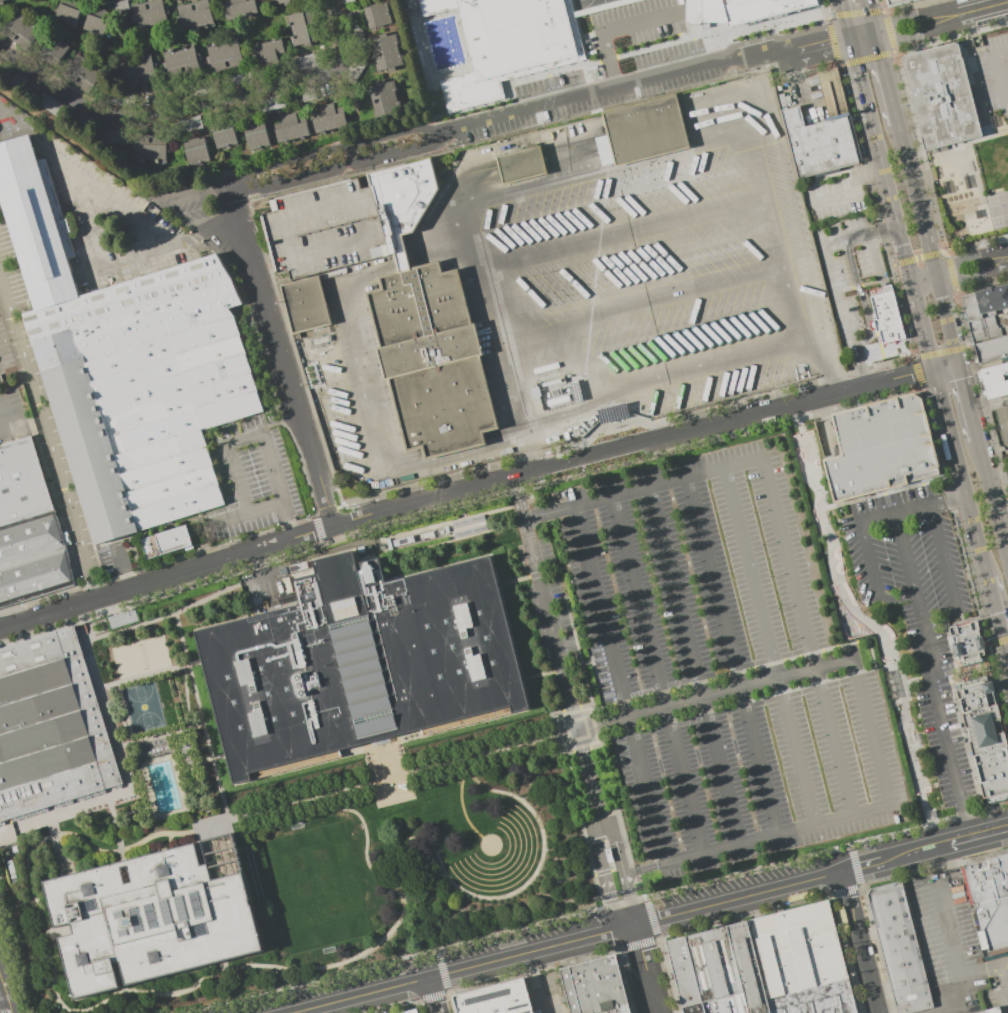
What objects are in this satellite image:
building: (2, 0)
building: (174, 0)
building: (176, 0)
building: (281, 1)
building: (344, 1)
building: (896, 2)
building: (120, 7)
building: (751, 7)
building: (238, 8)
road: (982, 8)
building: (69, 12)
building: (149, 13)
road: (868, 13)
building: (194, 15)
building: (376, 15)
road: (913, 15)
road: (845, 19)
building: (95, 20)
building: (303, 27)
traffic signals: (872, 27)
building: (20, 30)
road: (612, 30)
building: (513, 32)
road: (861, 33)
road: (329, 37)
road: (905, 38)
traffic signals: (850, 39)
building: (357, 40)
traffic signals: (876, 45)
building: (53, 52)
building: (268, 52)
building: (386, 52)
building: (225, 54)
building: (181, 61)
building: (310, 61)
building: (138, 70)
building: (82, 72)
building: (351, 75)
road: (884, 75)
road: (999, 75)
parking lot: (994, 78)
building: (30, 90)
building: (832, 92)
building: (309, 94)
building: (941, 96)
building: (384, 99)
building: (268, 104)
road: (540, 106)
road: (727, 114)
building: (328, 117)
road: (162, 120)
building: (189, 123)
road: (26, 127)
building: (290, 128)
building: (644, 130)
road: (645, 133)
building: (256, 134)
building: (112, 136)
building: (225, 139)
building: (818, 144)
road: (53, 148)
building: (151, 149)
building: (197, 151)
road: (575, 152)
road: (881, 161)
building: (520, 167)
road: (520, 167)
road: (848, 189)
road: (198, 194)
road: (915, 195)
road: (458, 199)
road: (502, 204)
park: (1000, 208)
building: (36, 225)
road: (627, 230)
road: (862, 236)
road: (442, 249)
parking lot: (849, 253)
road: (262, 255)
road: (970, 257)
road: (401, 260)
road: (922, 275)
parking lot: (661, 276)
road: (935, 277)
road: (974, 277)
road: (925, 285)
road: (858, 296)
building: (984, 298)
building: (395, 299)
road: (838, 299)
building: (305, 305)
road: (646, 305)
road: (349, 312)
building: (882, 314)
road: (923, 326)
road: (947, 326)
building: (983, 328)
road: (784, 348)
building: (991, 348)
road: (284, 357)
road: (824, 364)
road: (983, 364)
traffic signals: (958, 365)
road: (946, 367)
road: (861, 368)
traffic signals: (935, 370)
building: (994, 380)
building: (144, 392)
road: (988, 400)
road: (967, 402)
building: (611, 413)
building: (1001, 416)
road: (1, 433)
road: (49, 439)
road: (244, 439)
building: (880, 448)
road: (454, 457)
road: (961, 474)
road: (997, 475)
building: (22, 486)
road: (642, 487)
road: (465, 492)
road: (948, 499)
road: (992, 501)
road: (894, 513)
road: (447, 522)
road: (205, 525)
road: (372, 526)
road: (1003, 527)
road: (449, 541)
building: (166, 542)
building: (33, 559)
road: (382, 566)
road: (120, 568)
road: (261, 571)
road: (544, 573)
road: (947, 575)
parking lot: (261, 585)
road: (896, 594)
road: (545, 605)
parking lot: (920, 610)
road: (83, 613)
road: (167, 616)
building: (122, 619)
road: (997, 619)
road: (104, 622)
road: (872, 624)
park: (870, 627)
road: (89, 630)
road: (806, 636)
road: (868, 639)
road: (576, 640)
building: (966, 644)
road: (768, 646)
road: (731, 655)
park: (141, 657)
traffic signals: (1007, 660)
building: (359, 661)
road: (888, 664)
road: (693, 665)
parking lot: (722, 665)
road: (568, 667)
road: (969, 669)
road: (866, 670)
road: (150, 674)
road: (655, 675)
road: (917, 681)
road: (618, 684)
road: (714, 693)
road: (186, 697)
road: (591, 704)
park: (144, 707)
road: (938, 713)
road: (202, 717)
building: (50, 727)
road: (869, 732)
road: (161, 735)
building: (985, 739)
road: (133, 742)
road: (400, 742)
road: (218, 757)
road: (385, 767)
road: (587, 771)
road: (127, 778)
road: (389, 779)
road: (576, 795)
road: (110, 803)
park: (313, 805)
road: (462, 811)
road: (599, 819)
road: (361, 821)
road: (11, 832)
road: (971, 837)
road: (118, 838)
road: (9, 839)
road: (755, 840)
road: (165, 846)
road: (58, 847)
road: (616, 847)
road: (101, 850)
building: (608, 855)
road: (888, 859)
flagpole: (562, 878)
road: (603, 880)
park: (315, 888)
road: (514, 894)
road: (629, 900)
building: (989, 902)
building: (154, 916)
road: (946, 935)
road: (568, 943)
road: (858, 943)
road: (372, 946)
building: (900, 949)
parking lot: (957, 949)
building: (768, 966)
road: (1005, 966)
road: (645, 969)
road: (284, 977)
road: (1005, 979)
road: (5, 986)
building: (595, 987)
road: (432, 996)
road: (288, 999)
building: (496, 999)
road: (105, 1001)
road: (951, 1004)
road: (11, 1010)
building: (411, 1011)
building: (996, 1011)

